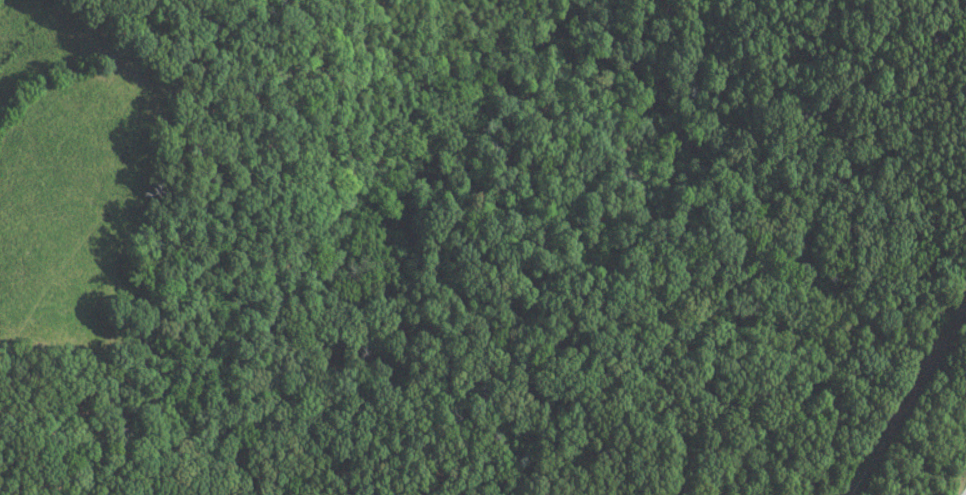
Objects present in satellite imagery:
road: (965, 494)

